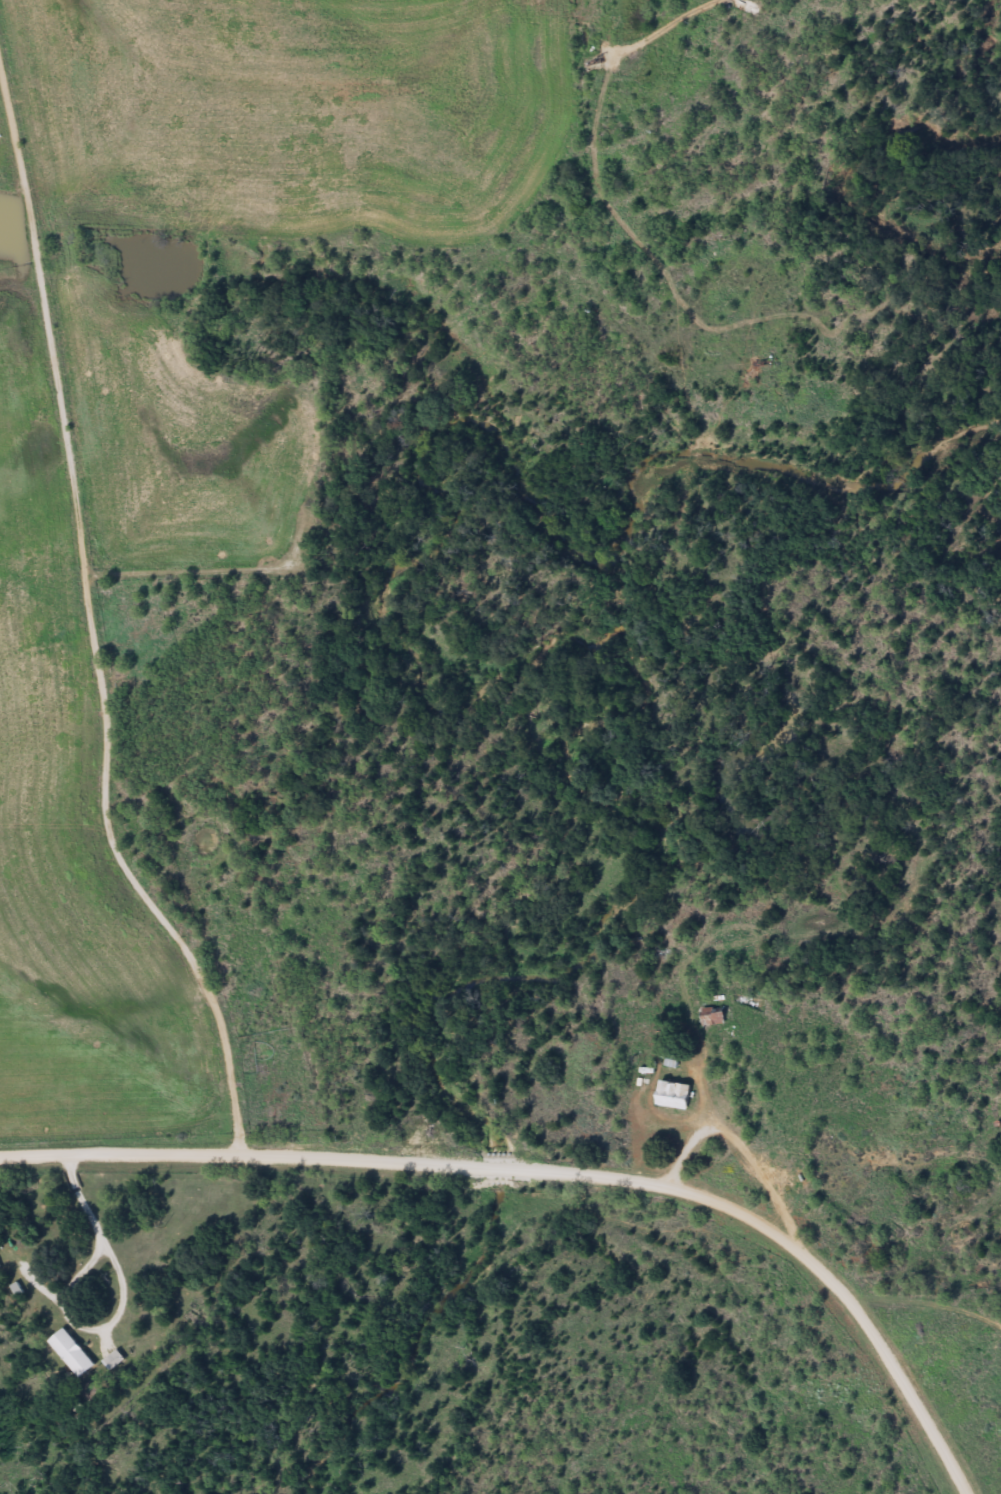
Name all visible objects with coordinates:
road: (32, 447)
park: (331, 554)
road: (89, 587)
building: (715, 1017)
building: (673, 1096)
road: (441, 1163)
building: (71, 1353)
building: (113, 1360)
road: (913, 1395)

